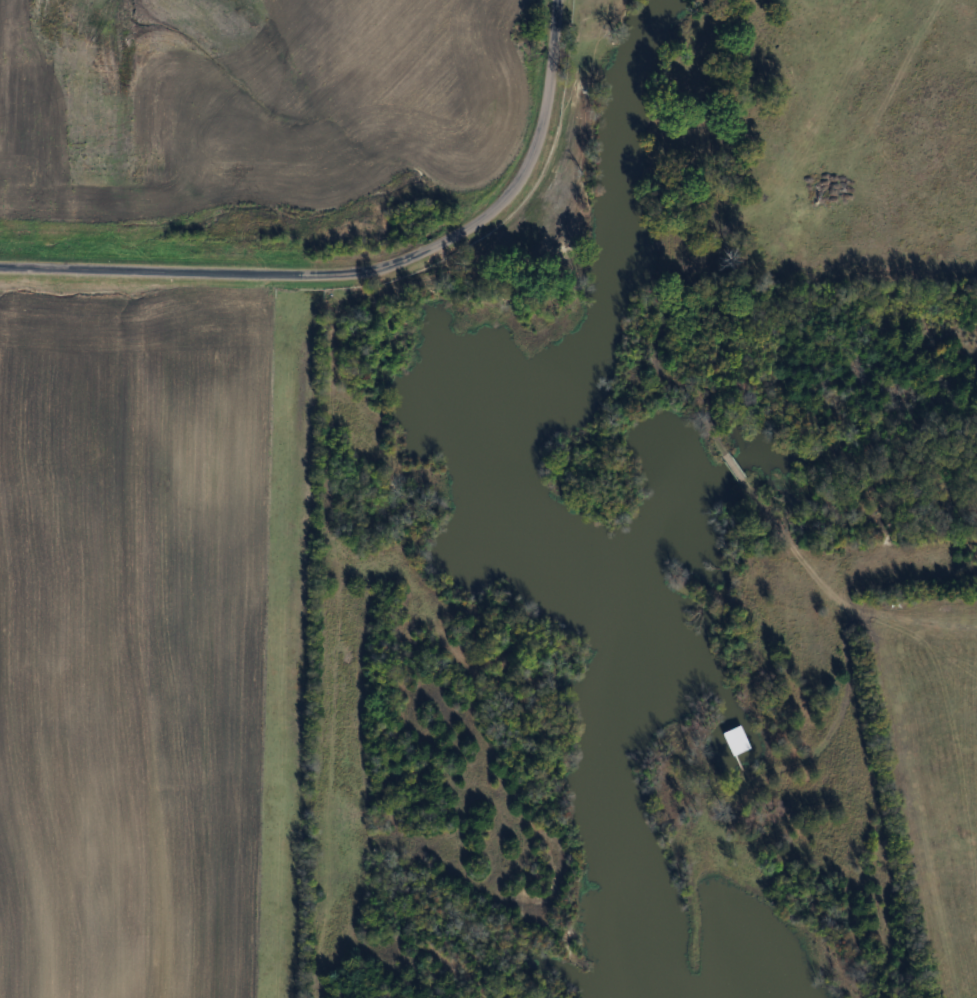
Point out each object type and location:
road: (367, 271)

